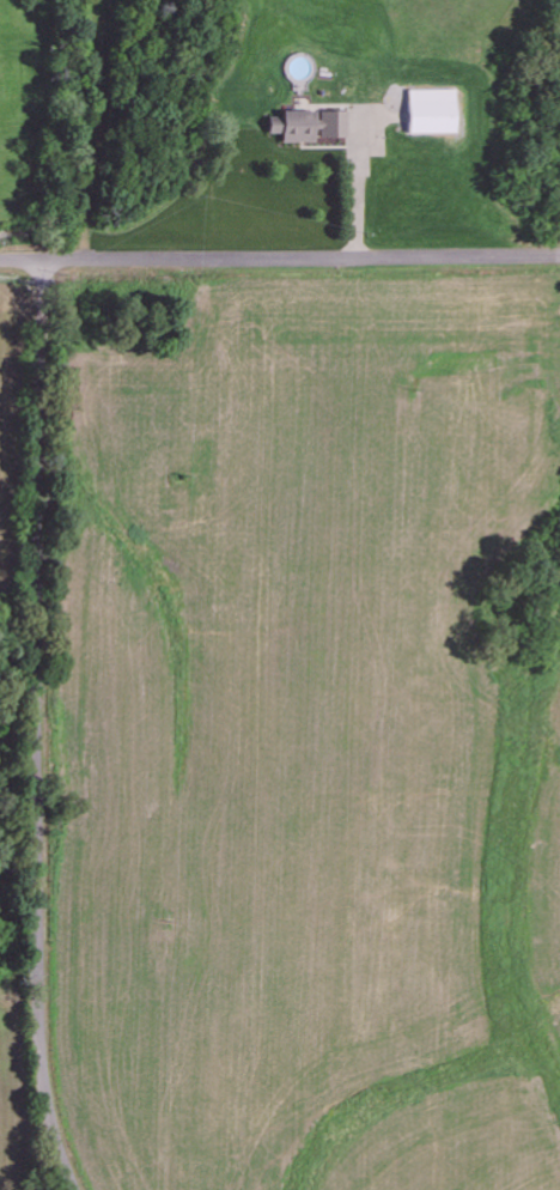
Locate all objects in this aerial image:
building: (428, 110)
building: (306, 125)
road: (279, 257)
road: (39, 727)

